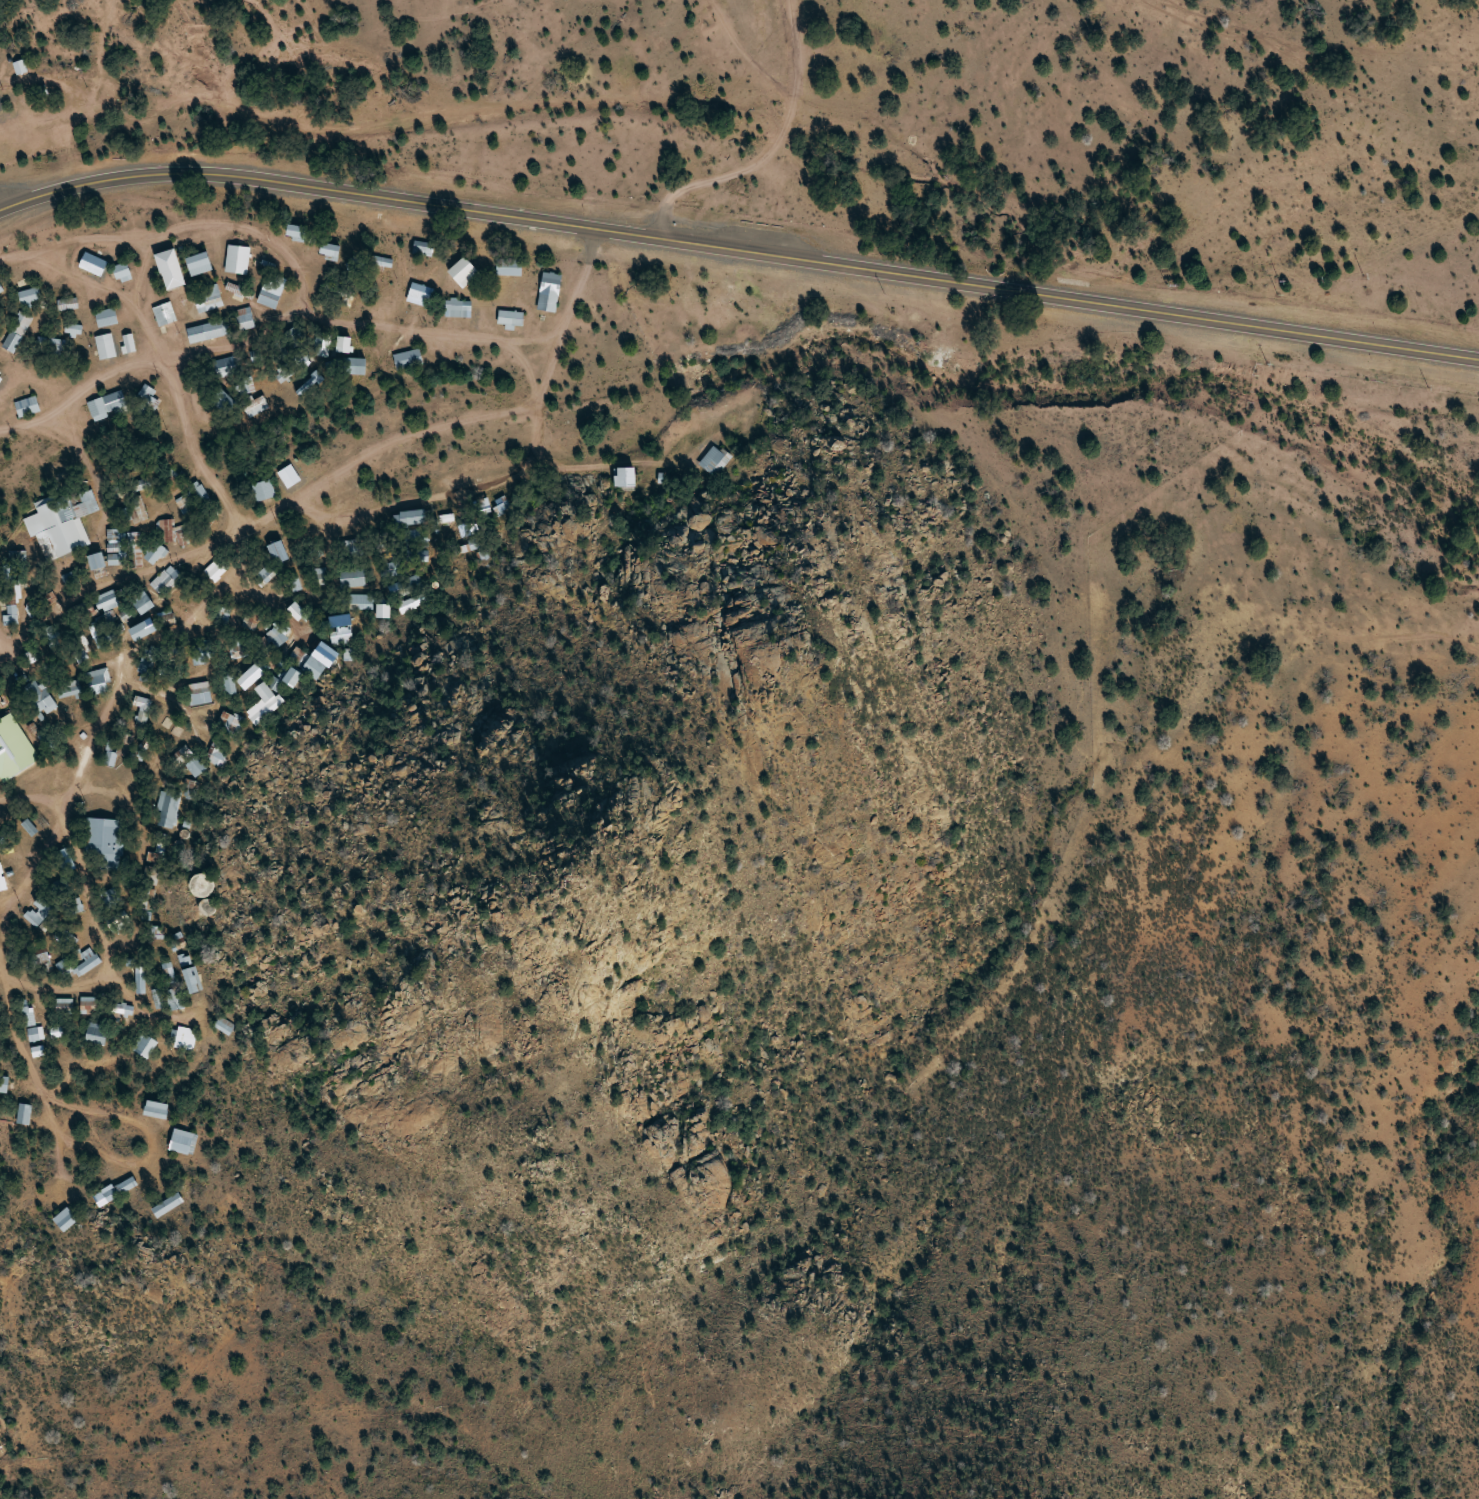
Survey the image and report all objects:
building: (20, 66)
road: (737, 122)
building: (297, 232)
road: (739, 247)
building: (422, 248)
building: (328, 250)
building: (237, 259)
building: (380, 262)
building: (198, 263)
building: (507, 266)
building: (169, 269)
building: (462, 271)
building: (121, 272)
building: (549, 283)
building: (235, 289)
building: (1, 290)
building: (28, 295)
building: (268, 296)
road: (251, 297)
building: (209, 303)
building: (67, 304)
building: (457, 308)
building: (164, 314)
building: (105, 317)
building: (509, 317)
building: (244, 318)
building: (72, 329)
building: (213, 329)
building: (16, 332)
building: (293, 335)
building: (128, 343)
building: (50, 344)
building: (342, 344)
building: (105, 346)
building: (406, 359)
building: (352, 365)
building: (226, 366)
building: (309, 384)
building: (146, 393)
building: (220, 399)
building: (107, 404)
building: (27, 406)
building: (255, 406)
road: (190, 416)
building: (713, 459)
road: (318, 467)
building: (620, 477)
building: (141, 483)
building: (263, 490)
building: (184, 504)
building: (138, 509)
building: (410, 518)
building: (63, 520)
building: (278, 552)
building: (154, 553)
building: (96, 561)
building: (266, 573)
building: (352, 577)
building: (164, 579)
building: (295, 584)
building: (106, 601)
building: (359, 601)
building: (296, 611)
building: (223, 614)
building: (10, 616)
building: (250, 620)
road: (8, 621)
building: (340, 628)
building: (142, 629)
building: (277, 634)
building: (314, 658)
building: (291, 677)
building: (246, 680)
building: (97, 681)
building: (229, 685)
building: (68, 688)
building: (199, 693)
building: (39, 697)
building: (262, 702)
building: (141, 703)
building: (230, 720)
road: (89, 729)
building: (13, 748)
building: (190, 763)
building: (167, 809)
building: (103, 841)
building: (200, 885)
building: (42, 905)
road: (18, 935)
building: (87, 962)
building: (191, 980)
building: (123, 1009)
building: (30, 1018)
building: (223, 1026)
building: (35, 1034)
building: (95, 1034)
building: (184, 1038)
building: (144, 1046)
building: (3, 1084)
road: (127, 1092)
building: (155, 1109)
building: (23, 1114)
building: (182, 1142)
building: (167, 1205)
building: (64, 1220)

